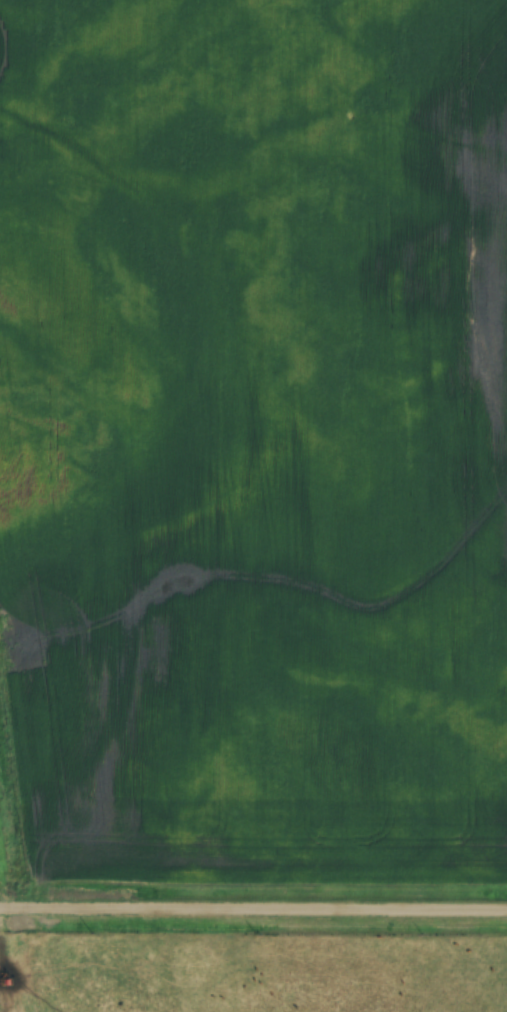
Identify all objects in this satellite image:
road: (253, 917)

